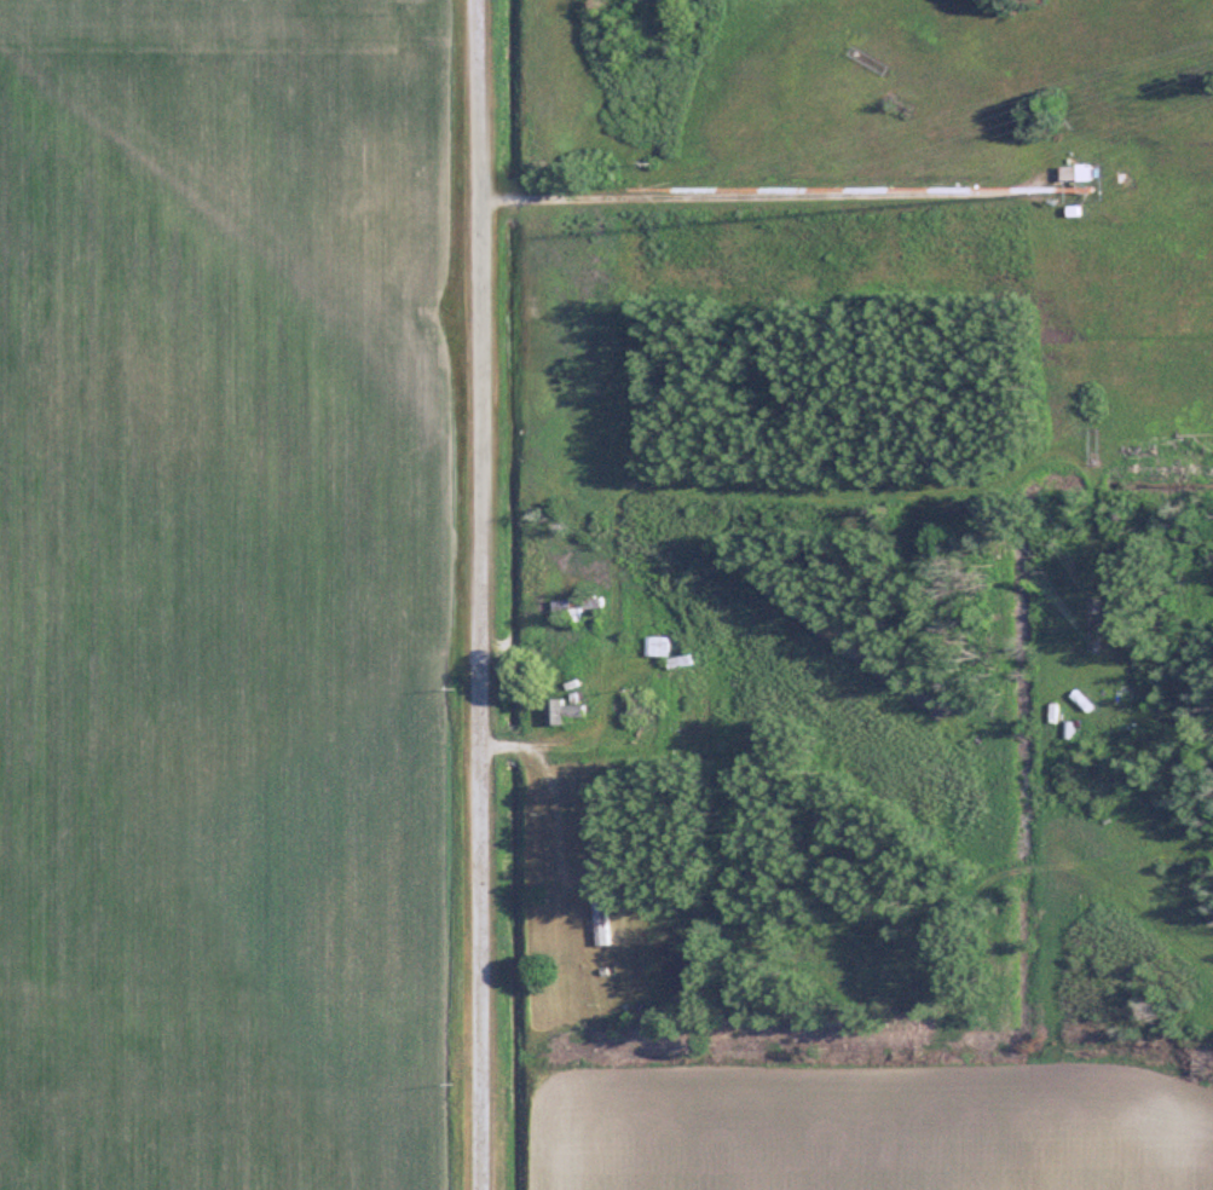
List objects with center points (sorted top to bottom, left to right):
building: (1086, 172)
road: (476, 595)
building: (588, 606)
building: (665, 646)
building: (574, 711)
building: (611, 915)

